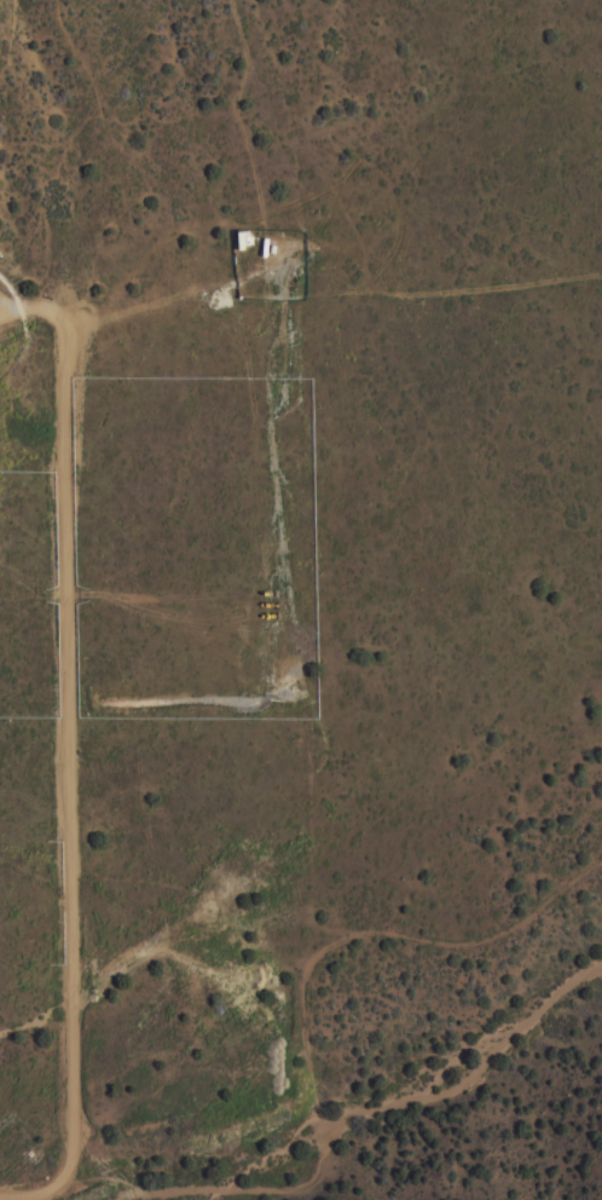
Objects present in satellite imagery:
road: (64, 731)
building: (222, 1011)
road: (31, 1195)

